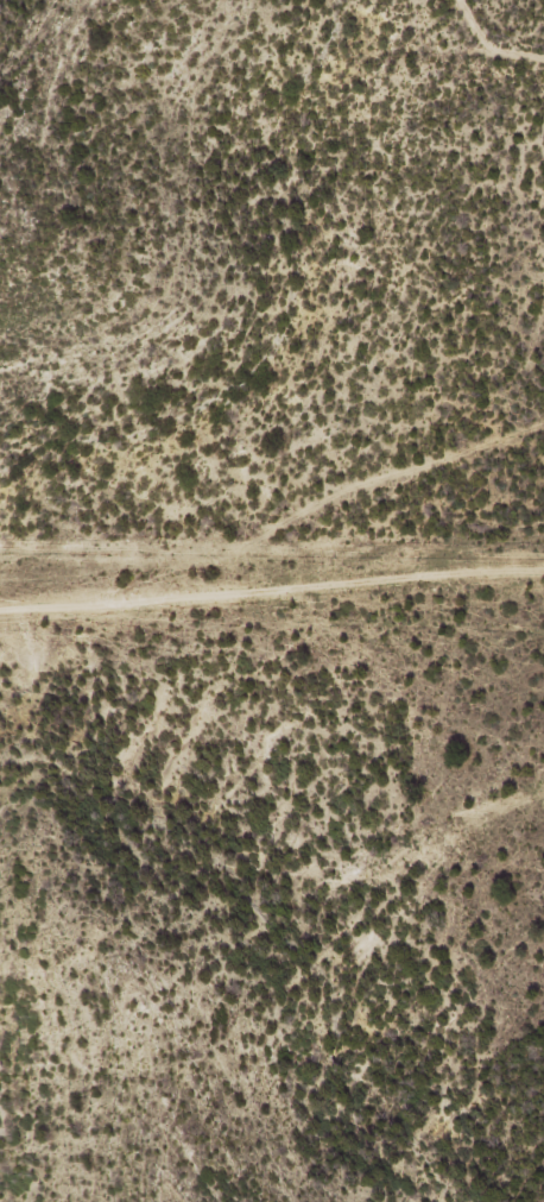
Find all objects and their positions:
road: (272, 655)

